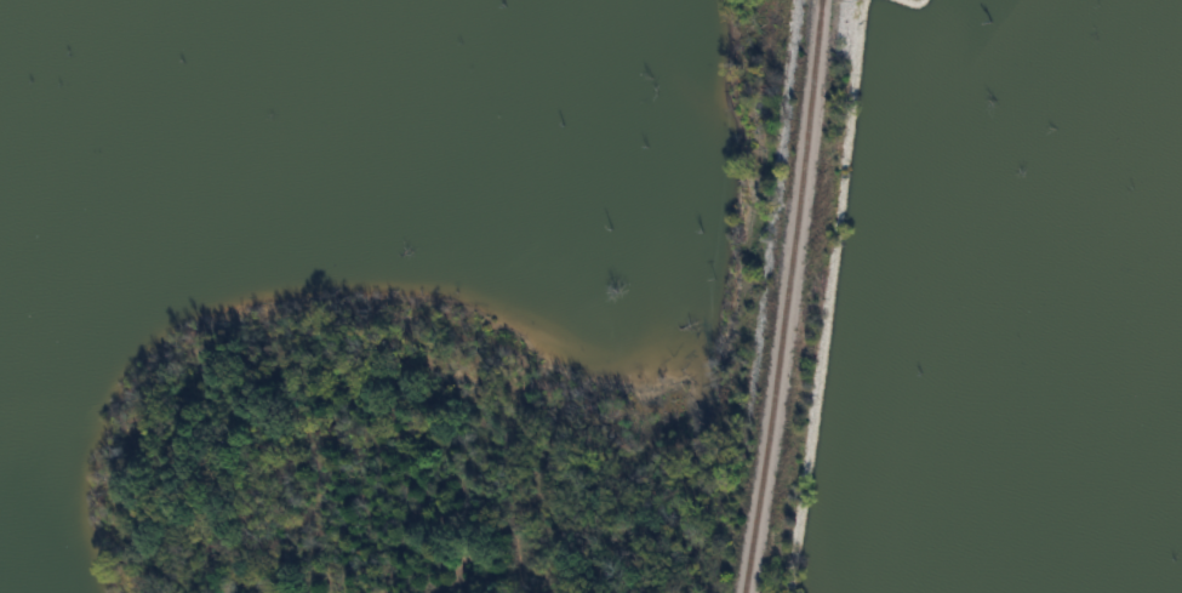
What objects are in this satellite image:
railway: (787, 297)

